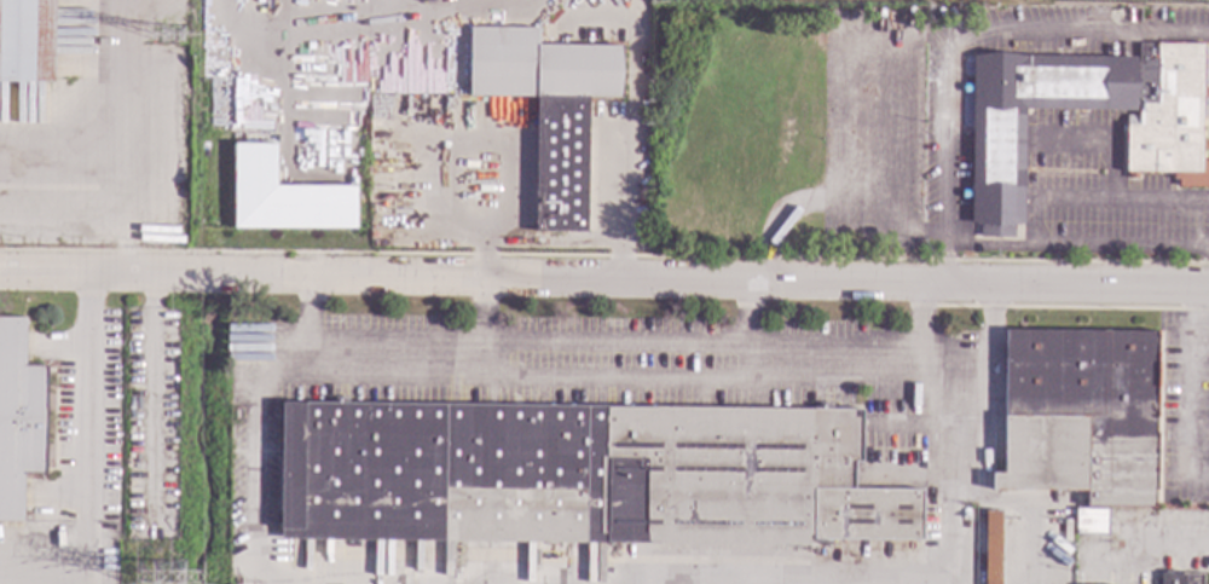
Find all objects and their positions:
gas station: (893, 2)
building: (382, 4)
road: (376, 22)
power tower: (172, 36)
road: (955, 39)
building: (27, 41)
building: (549, 109)
road: (634, 114)
building: (1168, 114)
road: (110, 133)
building: (997, 167)
building: (283, 196)
road: (126, 213)
road: (1076, 250)
road: (604, 278)
road: (303, 325)
road: (481, 328)
road: (748, 330)
road: (919, 376)
road: (611, 377)
road: (278, 380)
road: (1192, 388)
building: (1081, 414)
building: (18, 418)
road: (89, 467)
building: (580, 475)
road: (253, 485)
road: (949, 515)
building: (1092, 521)
building: (105, 540)
building: (993, 547)
road: (1174, 547)
building: (1181, 578)
power tower: (167, 580)

